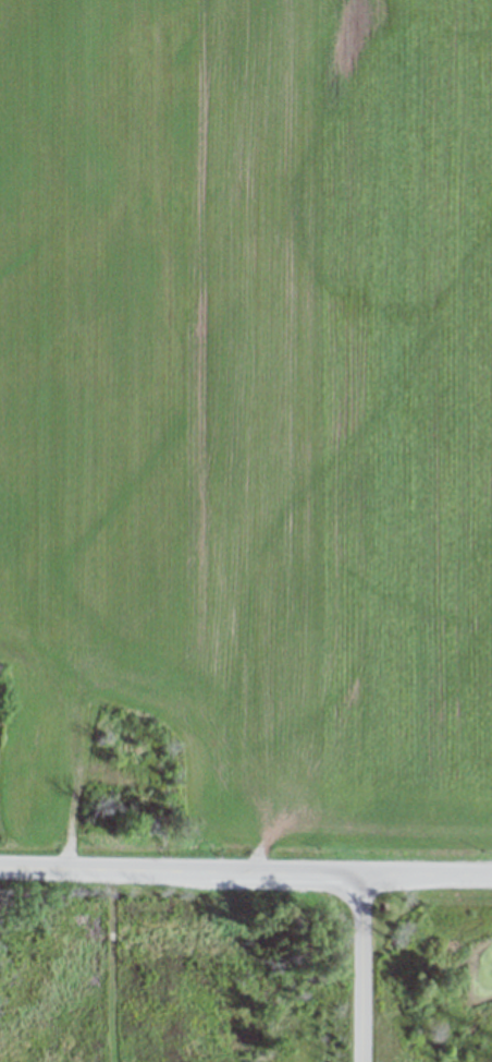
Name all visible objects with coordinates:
road: (246, 871)
road: (355, 967)

